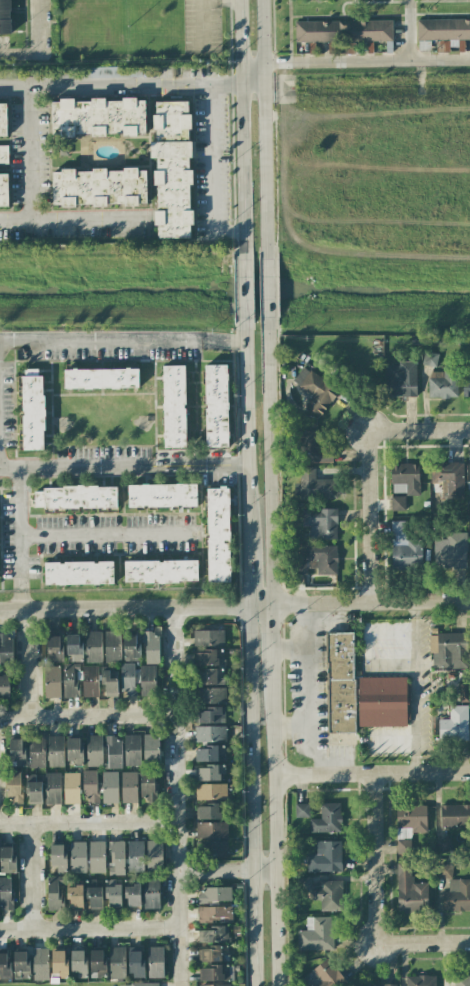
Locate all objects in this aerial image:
building: (5, 17)
road: (38, 26)
road: (411, 30)
building: (343, 31)
building: (442, 33)
road: (19, 53)
road: (367, 61)
building: (113, 72)
road: (251, 75)
road: (119, 85)
building: (98, 117)
building: (3, 120)
road: (266, 130)
road: (239, 131)
road: (30, 152)
building: (3, 154)
building: (172, 168)
road: (211, 172)
building: (98, 187)
building: (3, 190)
road: (69, 218)
road: (268, 289)
road: (243, 290)
road: (99, 341)
road: (222, 342)
building: (429, 359)
building: (100, 378)
building: (400, 379)
building: (443, 383)
building: (466, 387)
building: (315, 391)
building: (174, 405)
building: (216, 405)
building: (32, 409)
road: (245, 426)
building: (315, 447)
road: (271, 460)
road: (198, 466)
road: (75, 468)
road: (370, 470)
building: (404, 478)
building: (447, 481)
building: (313, 485)
building: (469, 494)
building: (162, 495)
building: (75, 497)
building: (397, 503)
building: (320, 522)
road: (19, 529)
building: (218, 534)
road: (107, 537)
building: (404, 547)
building: (451, 551)
building: (317, 560)
building: (469, 564)
road: (249, 569)
building: (161, 571)
building: (78, 572)
road: (19, 599)
road: (371, 602)
road: (262, 604)
road: (125, 608)
road: (273, 636)
building: (208, 637)
building: (112, 645)
building: (93, 646)
building: (74, 647)
building: (131, 647)
building: (151, 647)
building: (54, 648)
building: (6, 649)
building: (448, 650)
building: (208, 656)
road: (28, 663)
building: (209, 676)
building: (127, 678)
building: (72, 679)
building: (90, 680)
building: (147, 680)
building: (340, 680)
building: (52, 681)
building: (109, 682)
building: (4, 685)
road: (417, 687)
road: (305, 689)
building: (464, 689)
building: (210, 695)
building: (382, 701)
building: (210, 713)
road: (87, 716)
building: (454, 724)
building: (210, 733)
building: (132, 749)
building: (151, 749)
building: (94, 750)
building: (36, 751)
building: (55, 751)
building: (74, 751)
building: (113, 751)
building: (16, 752)
building: (210, 753)
building: (209, 772)
road: (372, 773)
building: (147, 785)
building: (14, 786)
building: (91, 786)
building: (110, 786)
building: (128, 786)
building: (53, 787)
building: (71, 787)
building: (33, 788)
building: (211, 790)
road: (176, 796)
road: (253, 796)
building: (301, 810)
building: (211, 811)
building: (454, 815)
building: (327, 819)
road: (88, 821)
building: (409, 825)
road: (277, 827)
building: (211, 829)
building: (443, 844)
building: (211, 848)
building: (134, 855)
building: (154, 855)
building: (77, 856)
building: (58, 857)
building: (97, 857)
building: (325, 857)
building: (7, 859)
building: (116, 859)
building: (444, 871)
road: (227, 872)
road: (33, 876)
building: (410, 891)
building: (55, 892)
building: (151, 892)
building: (5, 893)
building: (214, 894)
building: (327, 894)
building: (133, 895)
building: (457, 895)
building: (75, 896)
building: (94, 896)
building: (113, 896)
road: (376, 904)
building: (214, 915)
road: (89, 928)
building: (214, 934)
building: (315, 934)
building: (214, 953)
building: (155, 961)
building: (59, 962)
building: (78, 962)
building: (97, 962)
building: (116, 962)
building: (136, 963)
building: (40, 964)
building: (5, 965)
building: (21, 965)
building: (215, 972)
building: (323, 976)
building: (420, 980)
building: (461, 980)
building: (215, 983)
building: (138, 984)
building: (379, 985)

